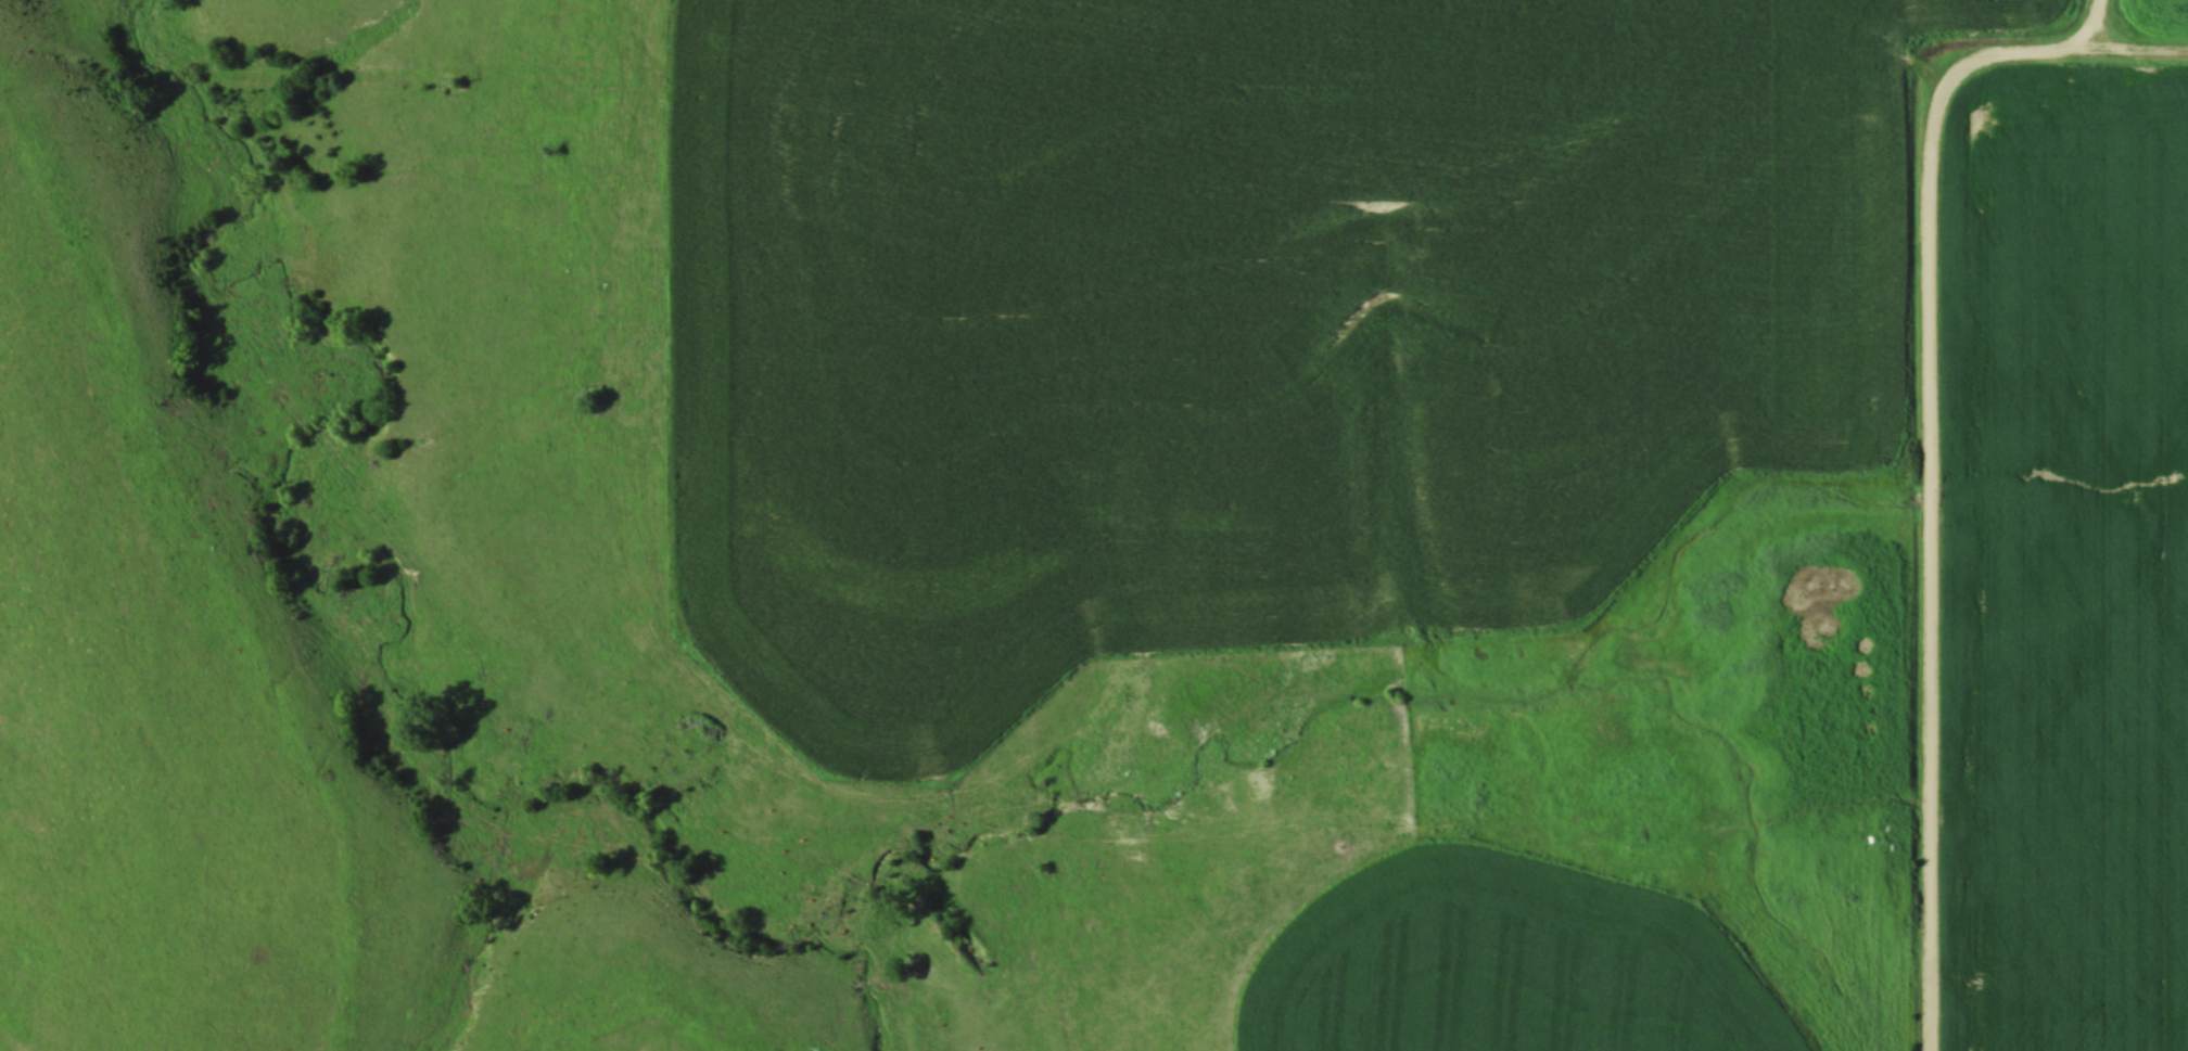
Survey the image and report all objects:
road: (2071, 25)
road: (2128, 50)
road: (1931, 497)

